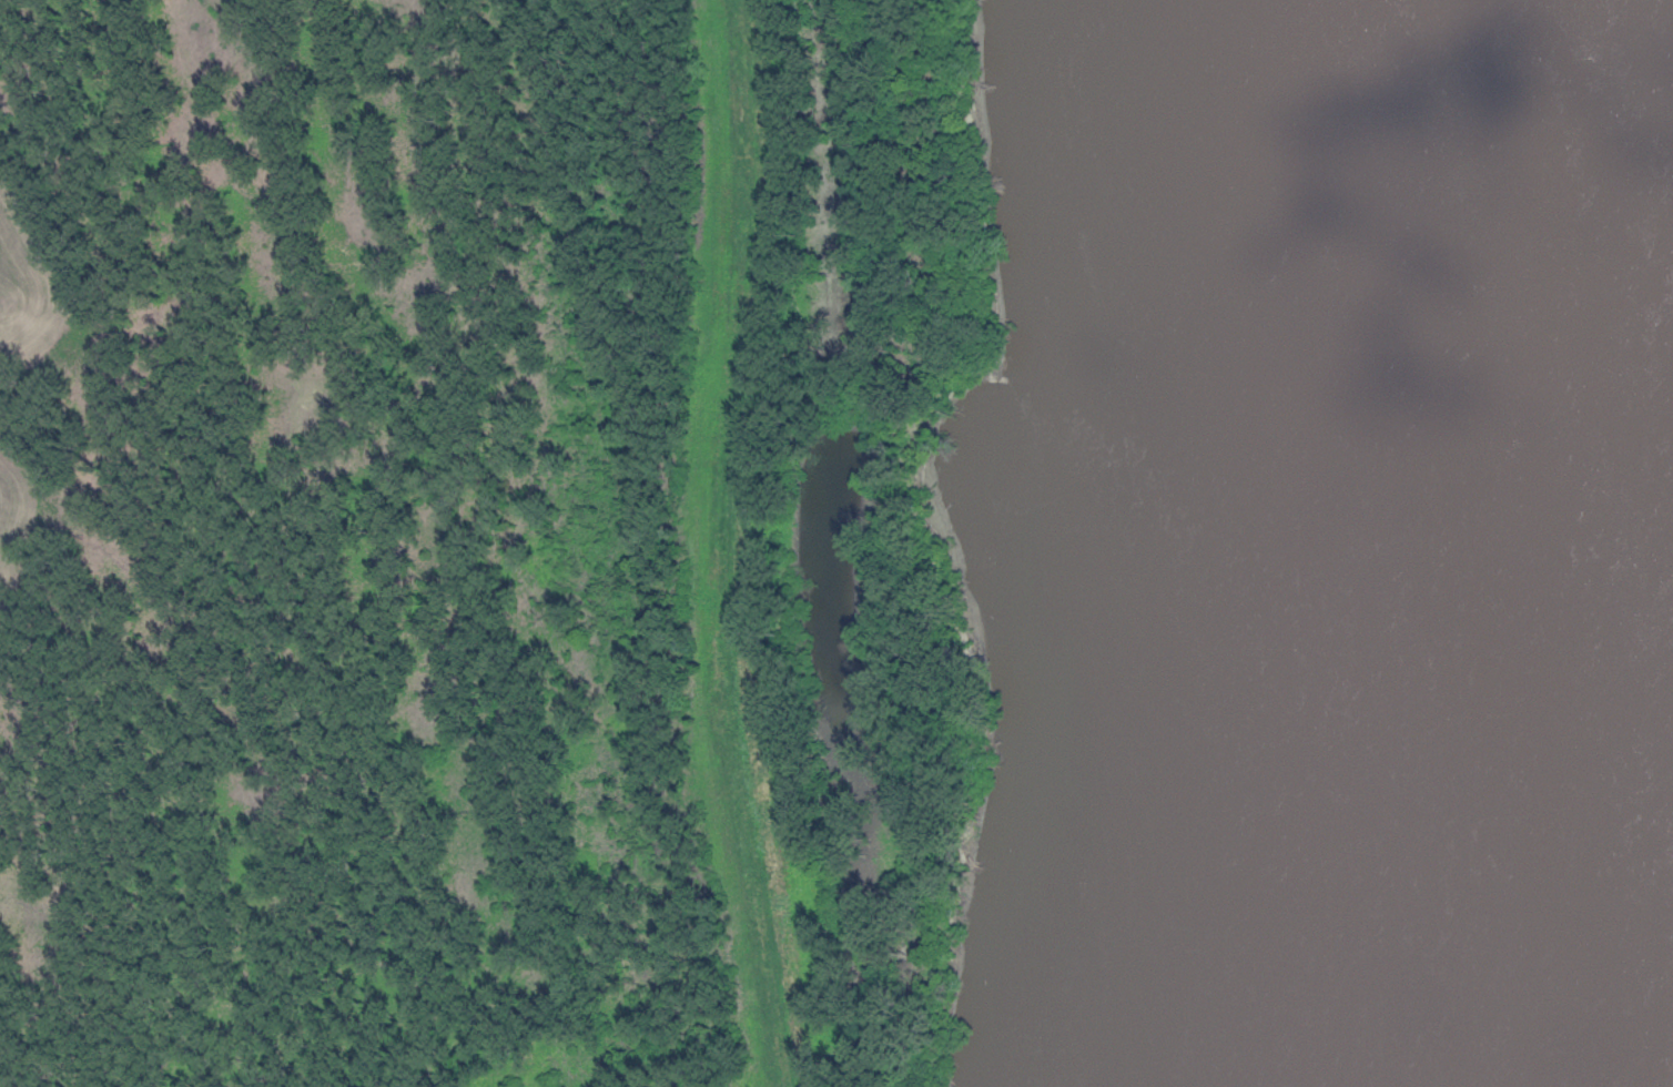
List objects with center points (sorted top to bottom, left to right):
river: (1549, 541)

